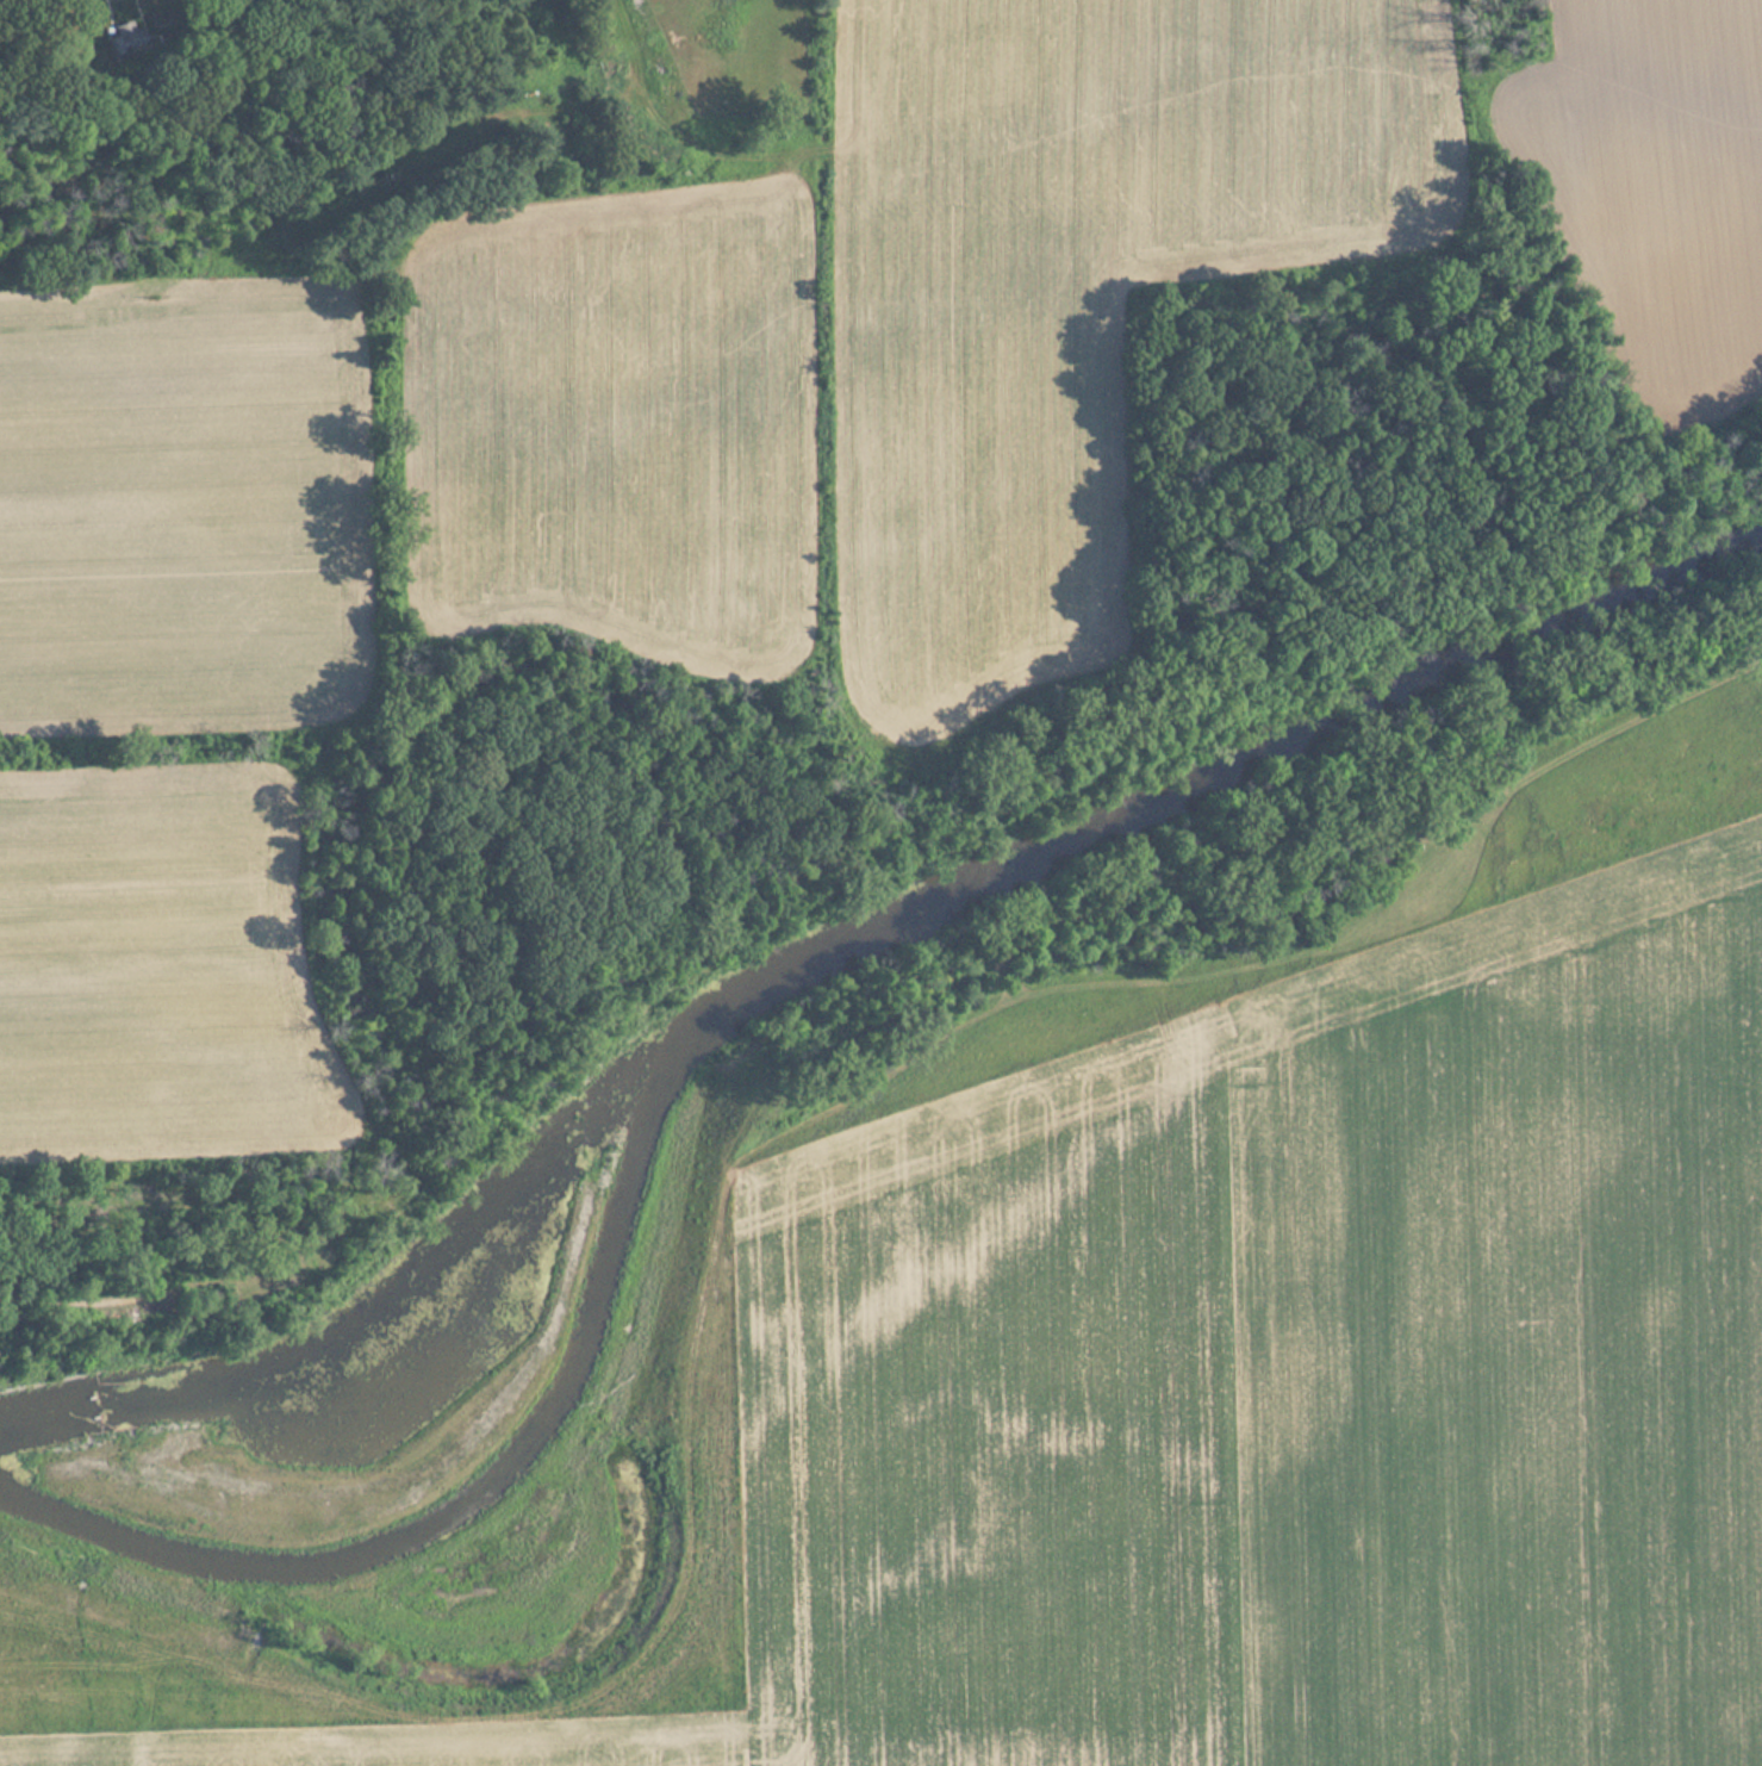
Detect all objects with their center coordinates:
building: (130, 41)
river: (848, 938)

